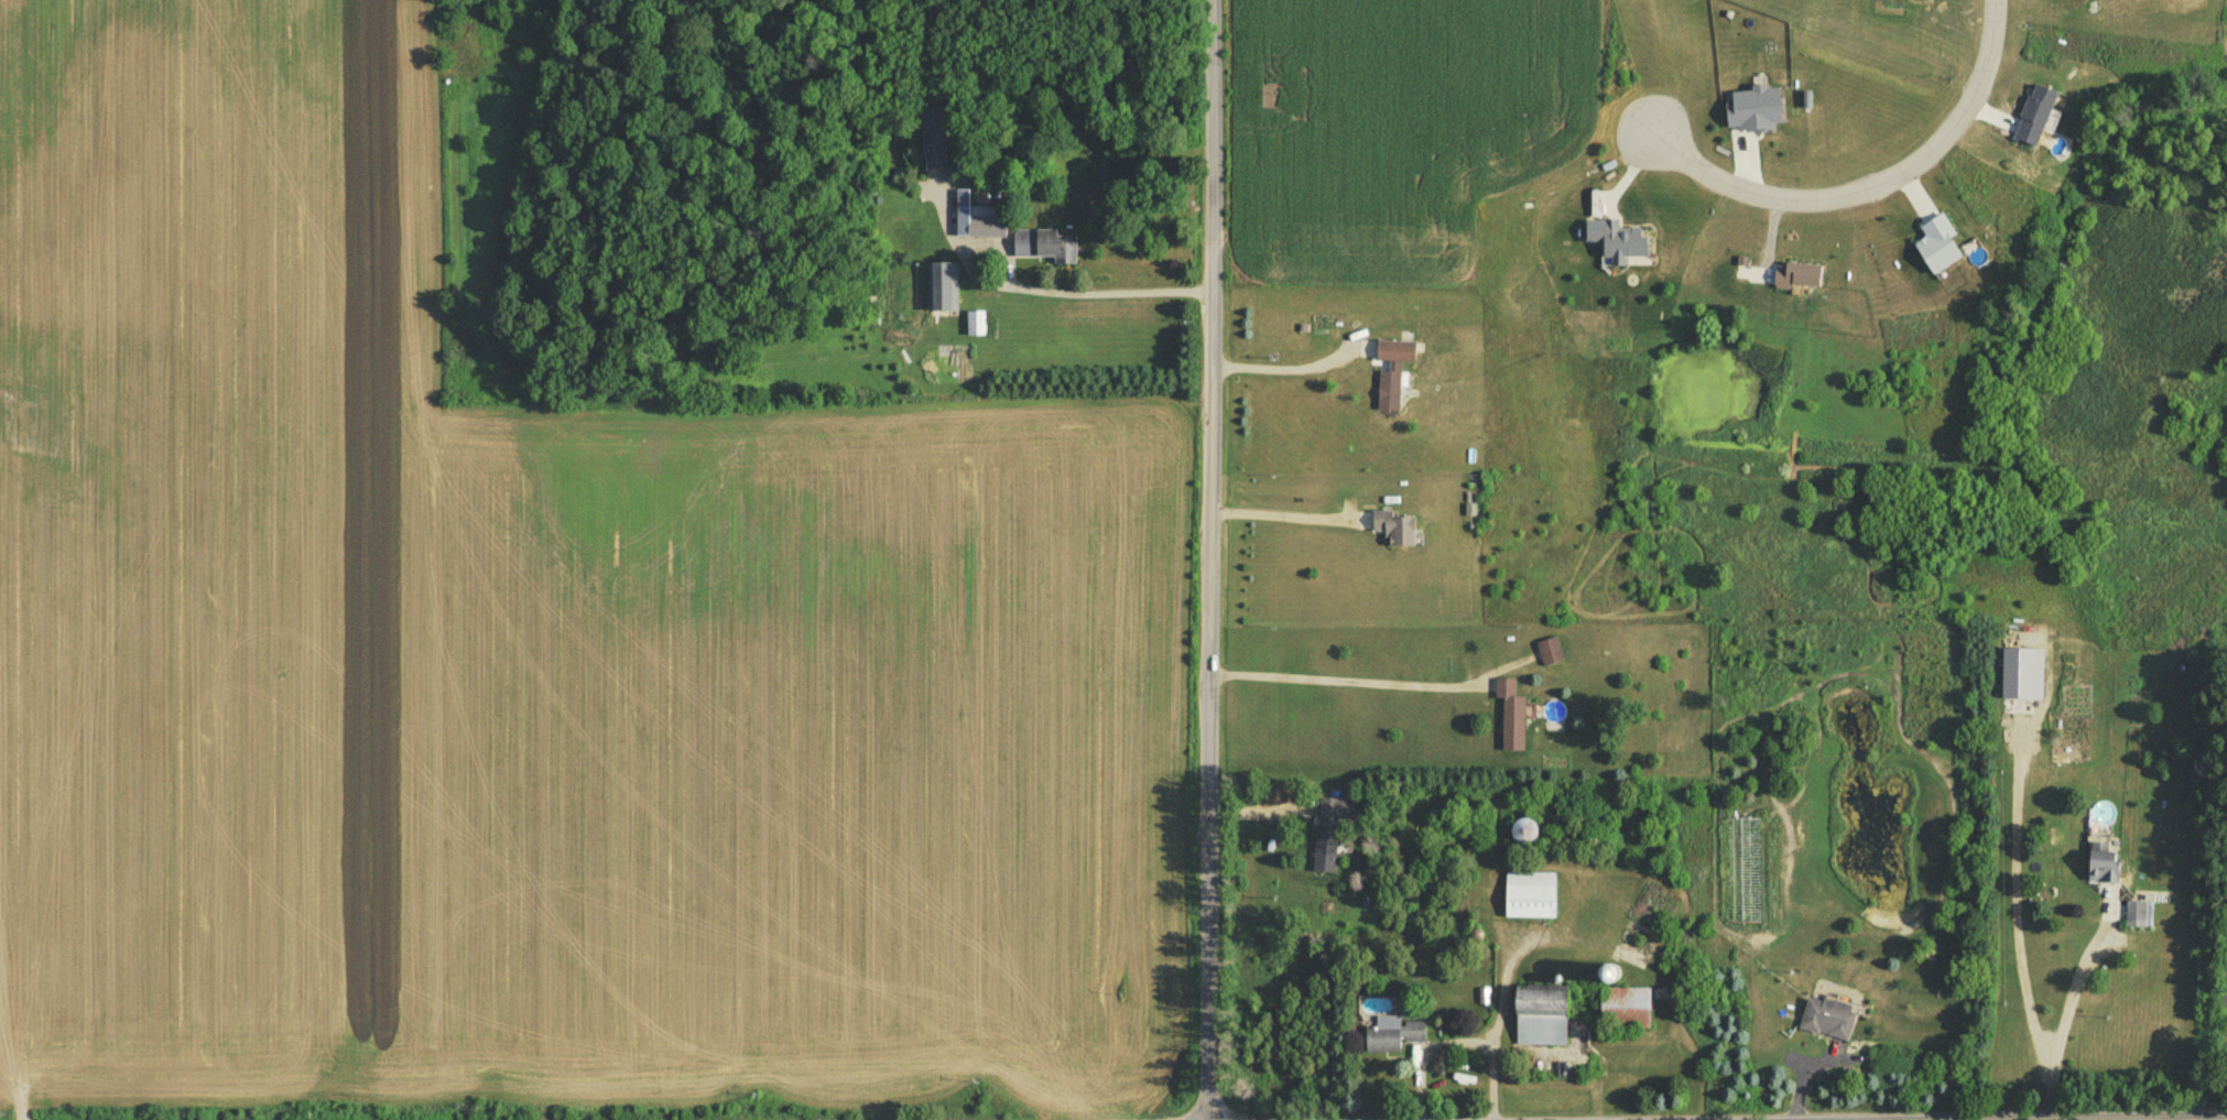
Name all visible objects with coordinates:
road: (1876, 186)
building: (982, 225)
building: (1046, 247)
building: (947, 295)
road: (1089, 295)
road: (1288, 373)
building: (1395, 374)
road: (1278, 518)
building: (1397, 532)
road: (1206, 559)
road: (1339, 683)
building: (1513, 718)
road: (1260, 809)
building: (1332, 835)
building: (2106, 868)
building: (1532, 898)
building: (2140, 917)
road: (1510, 975)
building: (1628, 1011)
road: (2067, 1016)
building: (1545, 1020)
building: (1829, 1021)
building: (1394, 1040)
road: (1460, 1044)
road: (2137, 1119)
road: (2204, 1119)

